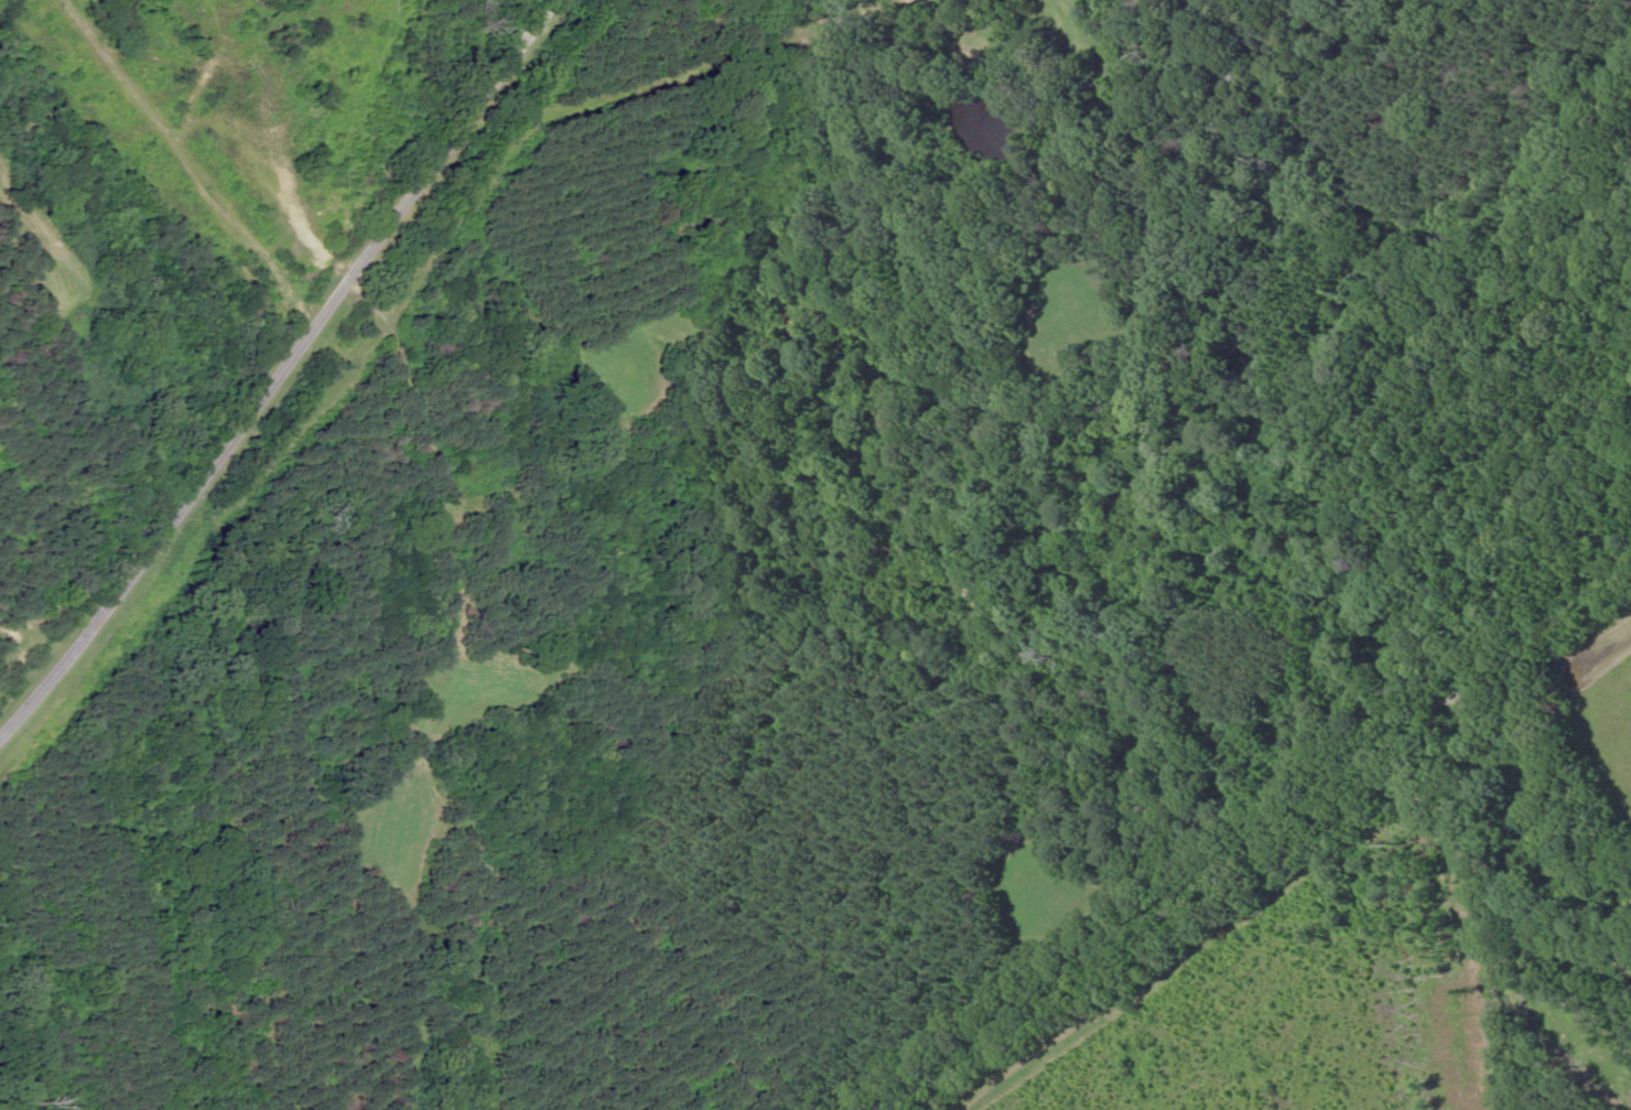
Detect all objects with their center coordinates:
road: (289, 369)

